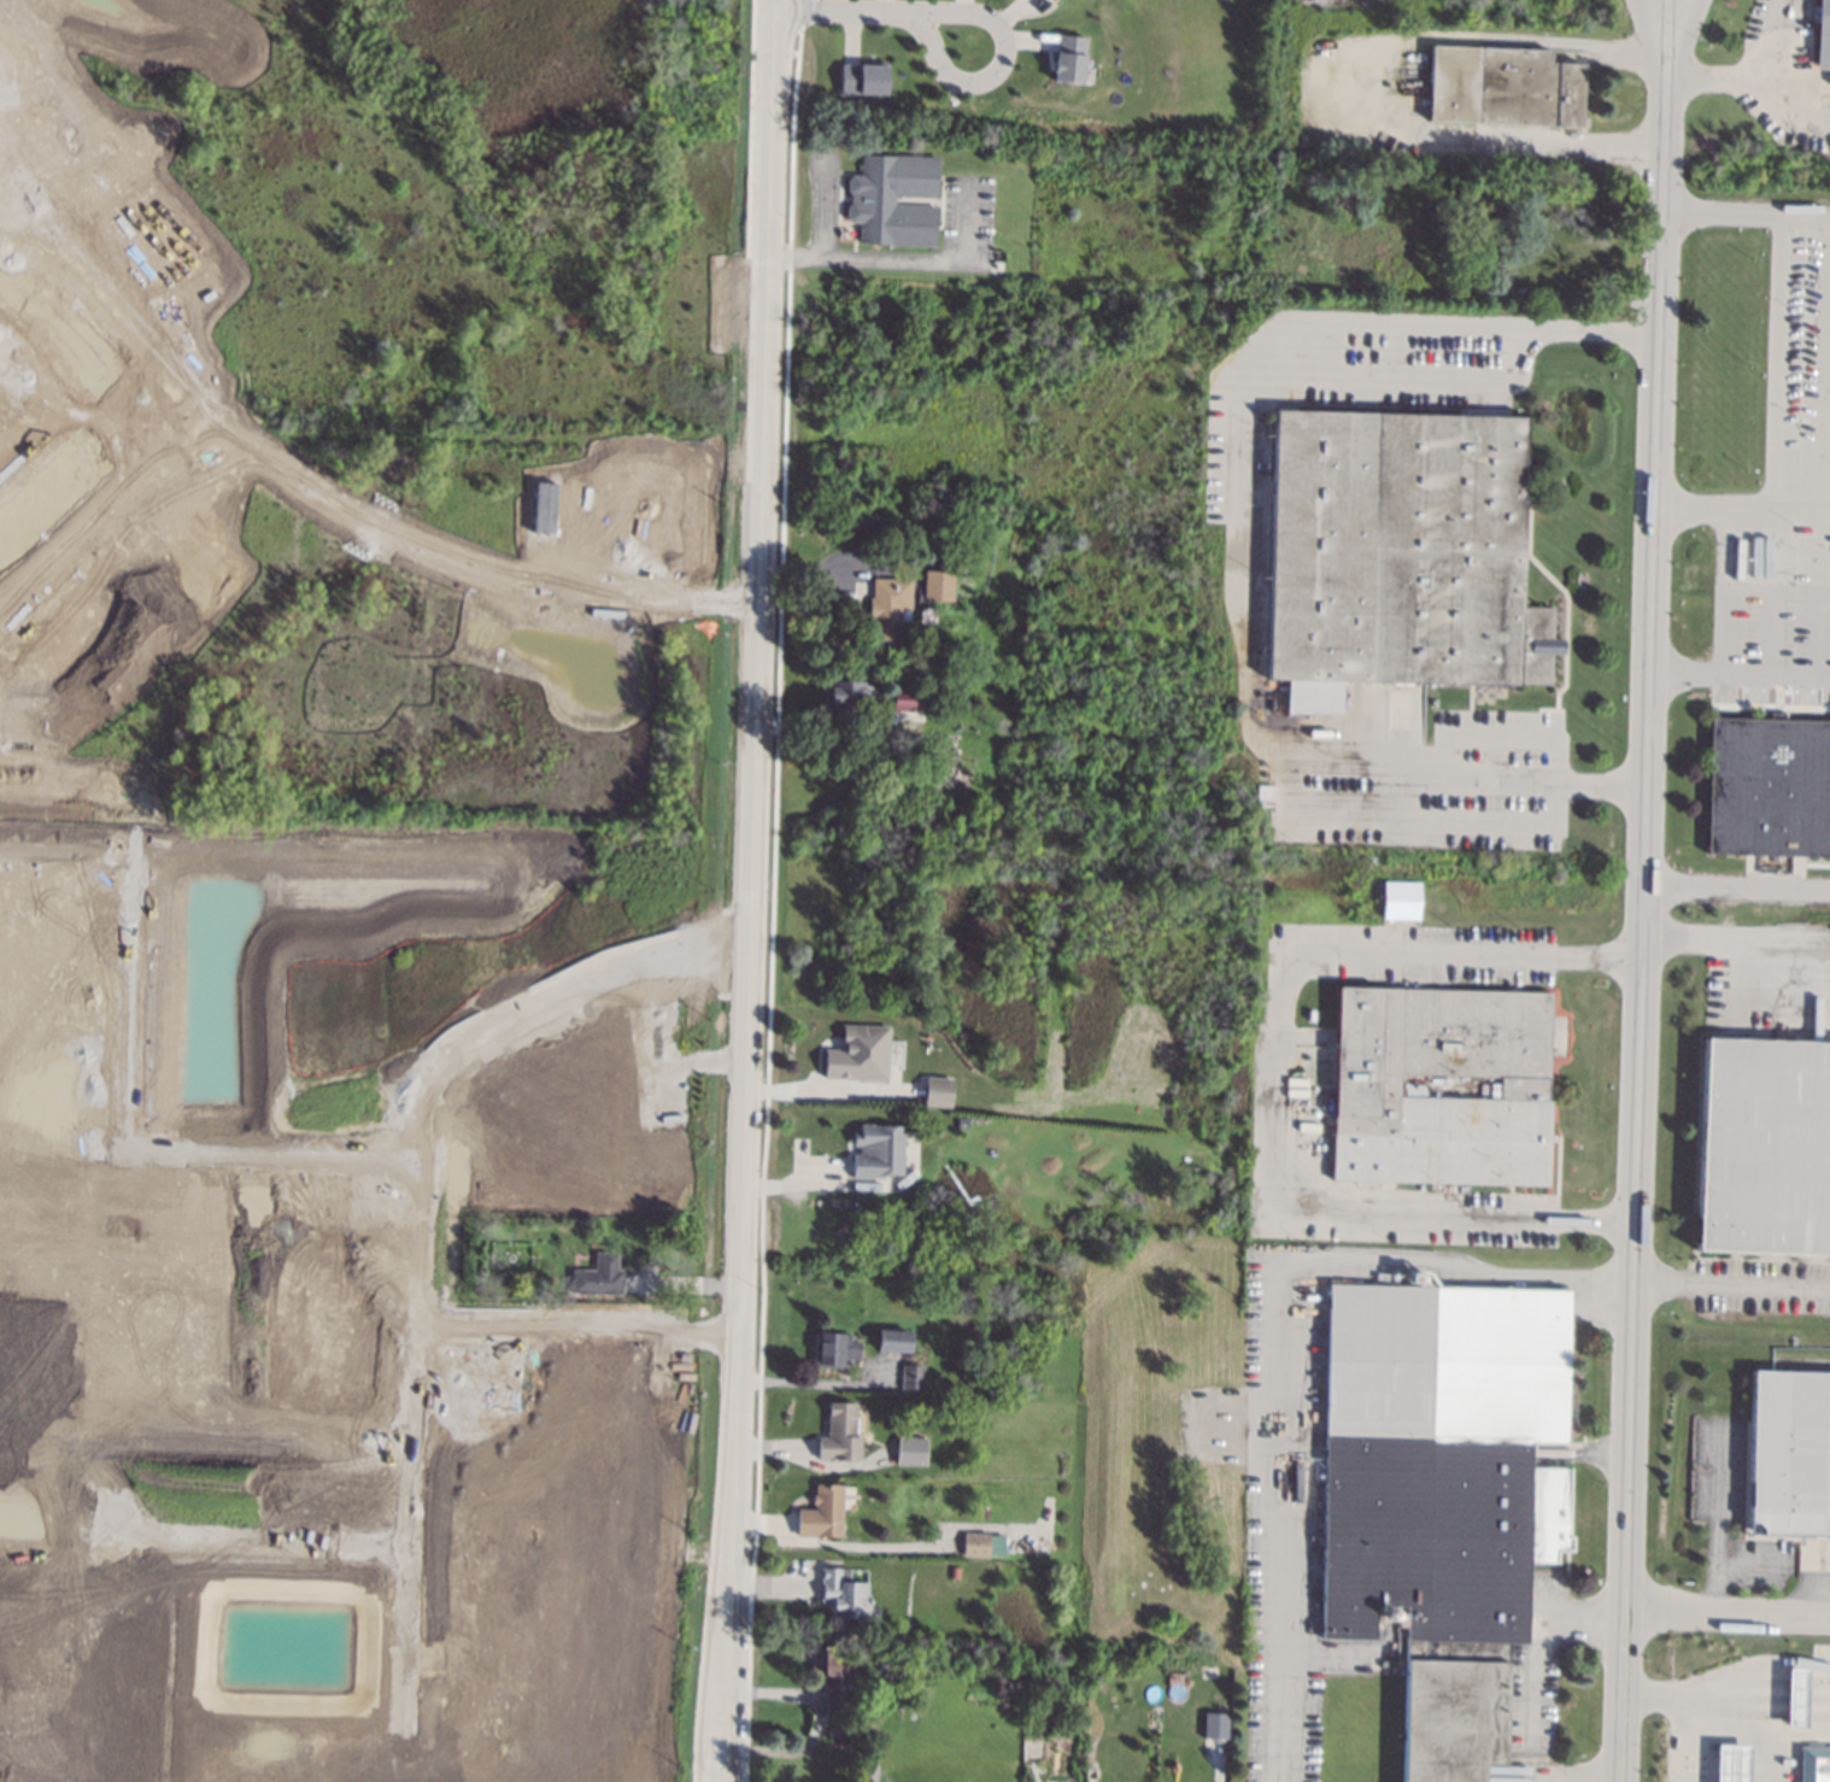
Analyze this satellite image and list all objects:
building: (1049, 0)
road: (844, 10)
road: (799, 14)
road: (1656, 24)
road: (1687, 24)
building: (1822, 35)
building: (1067, 58)
road: (998, 66)
building: (862, 77)
road: (1753, 78)
building: (36, 81)
road: (1372, 83)
building: (1502, 86)
building: (1353, 90)
road: (1791, 104)
road: (749, 134)
road: (1, 178)
building: (893, 199)
road: (823, 206)
road: (1720, 216)
road: (1803, 217)
building: (140, 230)
road: (904, 262)
building: (60, 324)
road: (1776, 359)
road: (1825, 379)
road: (39, 406)
road: (1828, 409)
building: (47, 490)
road: (319, 497)
road: (1714, 499)
road: (1799, 502)
road: (1825, 508)
road: (105, 510)
building: (641, 534)
road: (1240, 534)
building: (1398, 555)
building: (937, 585)
road: (1773, 587)
road: (1819, 588)
building: (112, 594)
building: (887, 606)
building: (927, 615)
road: (1740, 673)
building: (843, 694)
building: (909, 698)
building: (1769, 786)
road: (1737, 886)
road: (749, 890)
building: (1400, 899)
road: (770, 905)
road: (134, 907)
road: (1642, 914)
building: (53, 949)
road: (1279, 980)
road: (530, 1031)
building: (858, 1053)
building: (1439, 1085)
road: (829, 1090)
building: (937, 1090)
road: (417, 1138)
building: (1764, 1147)
building: (878, 1150)
road: (270, 1156)
road: (397, 1159)
road: (412, 1227)
building: (597, 1276)
road: (1527, 1277)
road: (1732, 1283)
road: (573, 1323)
building: (892, 1340)
building: (835, 1348)
road: (391, 1353)
building: (911, 1376)
building: (839, 1432)
road: (1259, 1446)
building: (910, 1450)
building: (1789, 1453)
building: (1439, 1494)
building: (821, 1512)
road: (1718, 1520)
road: (282, 1543)
building: (975, 1544)
road: (385, 1546)
road: (272, 1563)
road: (381, 1567)
road: (379, 1571)
building: (841, 1594)
road: (1728, 1613)
road: (1533, 1640)
road: (382, 1653)
road: (418, 1655)
road: (1759, 1667)
building: (908, 1670)
road: (169, 1671)
building: (832, 1678)
building: (1795, 1698)
parking lot: (1530, 1699)
road: (1693, 1704)
building: (1213, 1724)
building: (1731, 1763)
gas station: (1731, 1763)
parking lot: (1787, 1763)
building: (1813, 1764)
road: (872, 1765)

